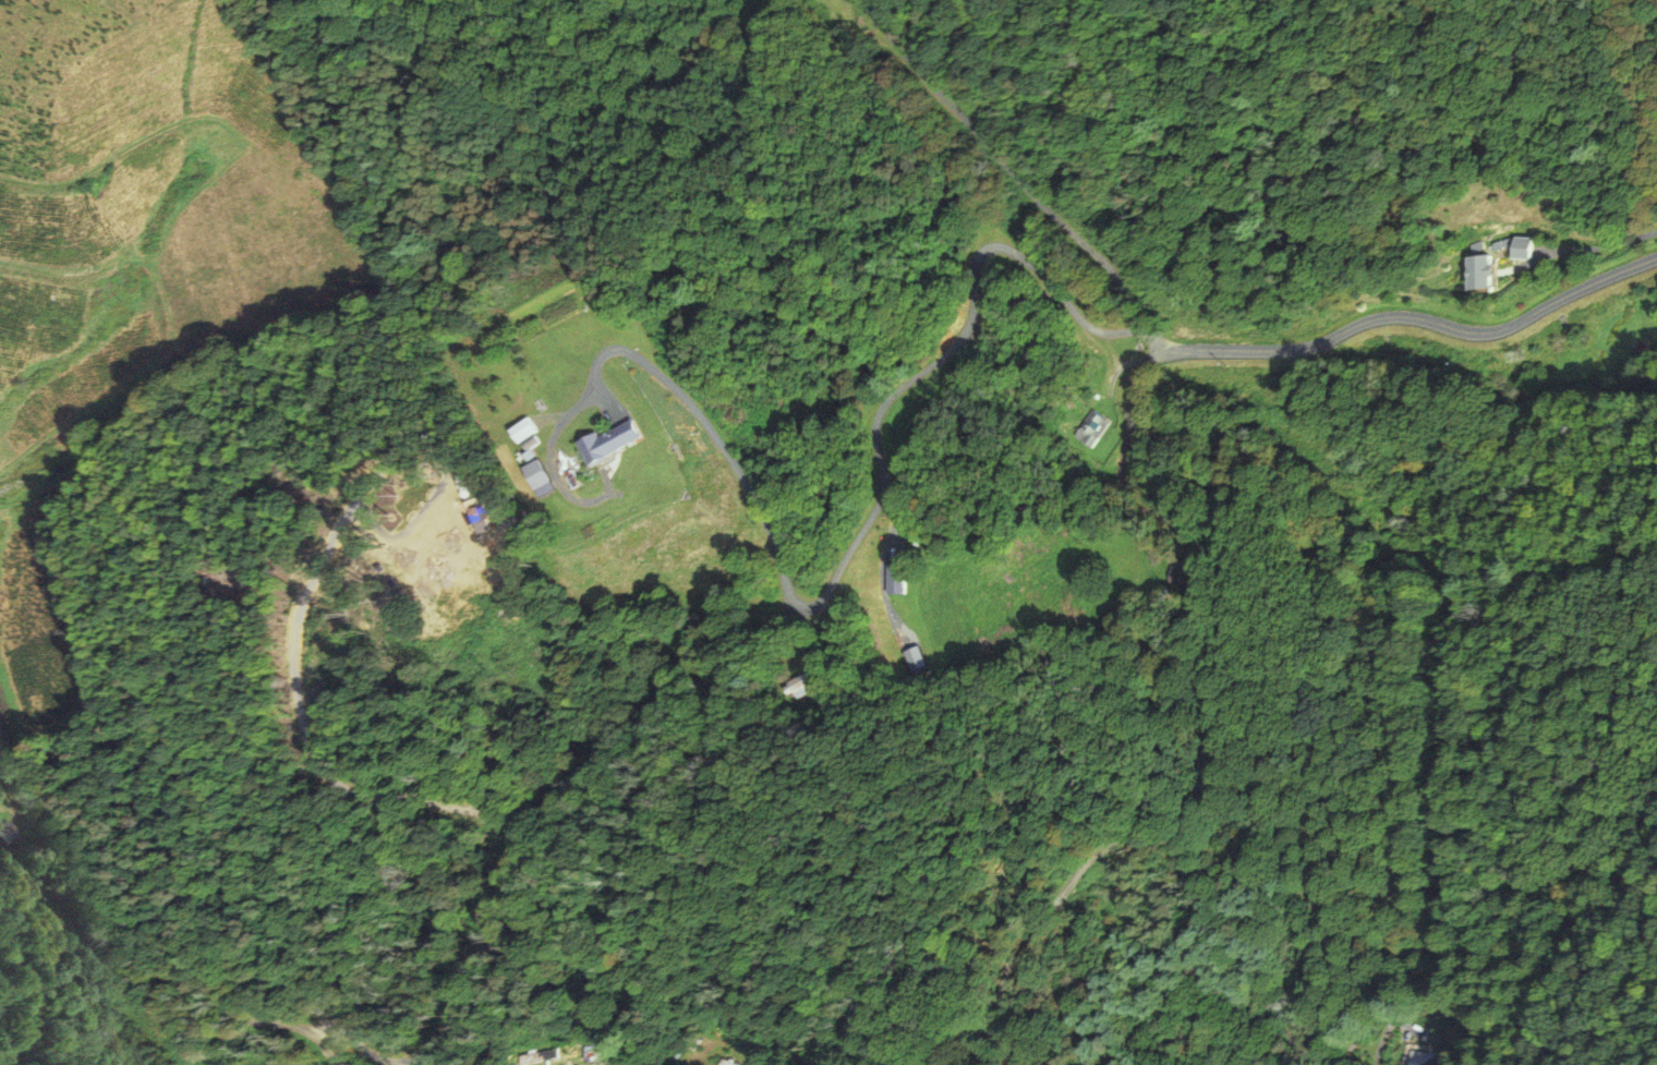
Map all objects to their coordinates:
road: (1019, 172)
building: (1510, 247)
building: (1475, 274)
road: (946, 350)
road: (693, 406)
building: (1088, 429)
building: (518, 432)
building: (603, 441)
road: (1136, 498)
building: (893, 579)
building: (3, 832)
road: (134, 929)
building: (528, 1055)
building: (1420, 1057)

